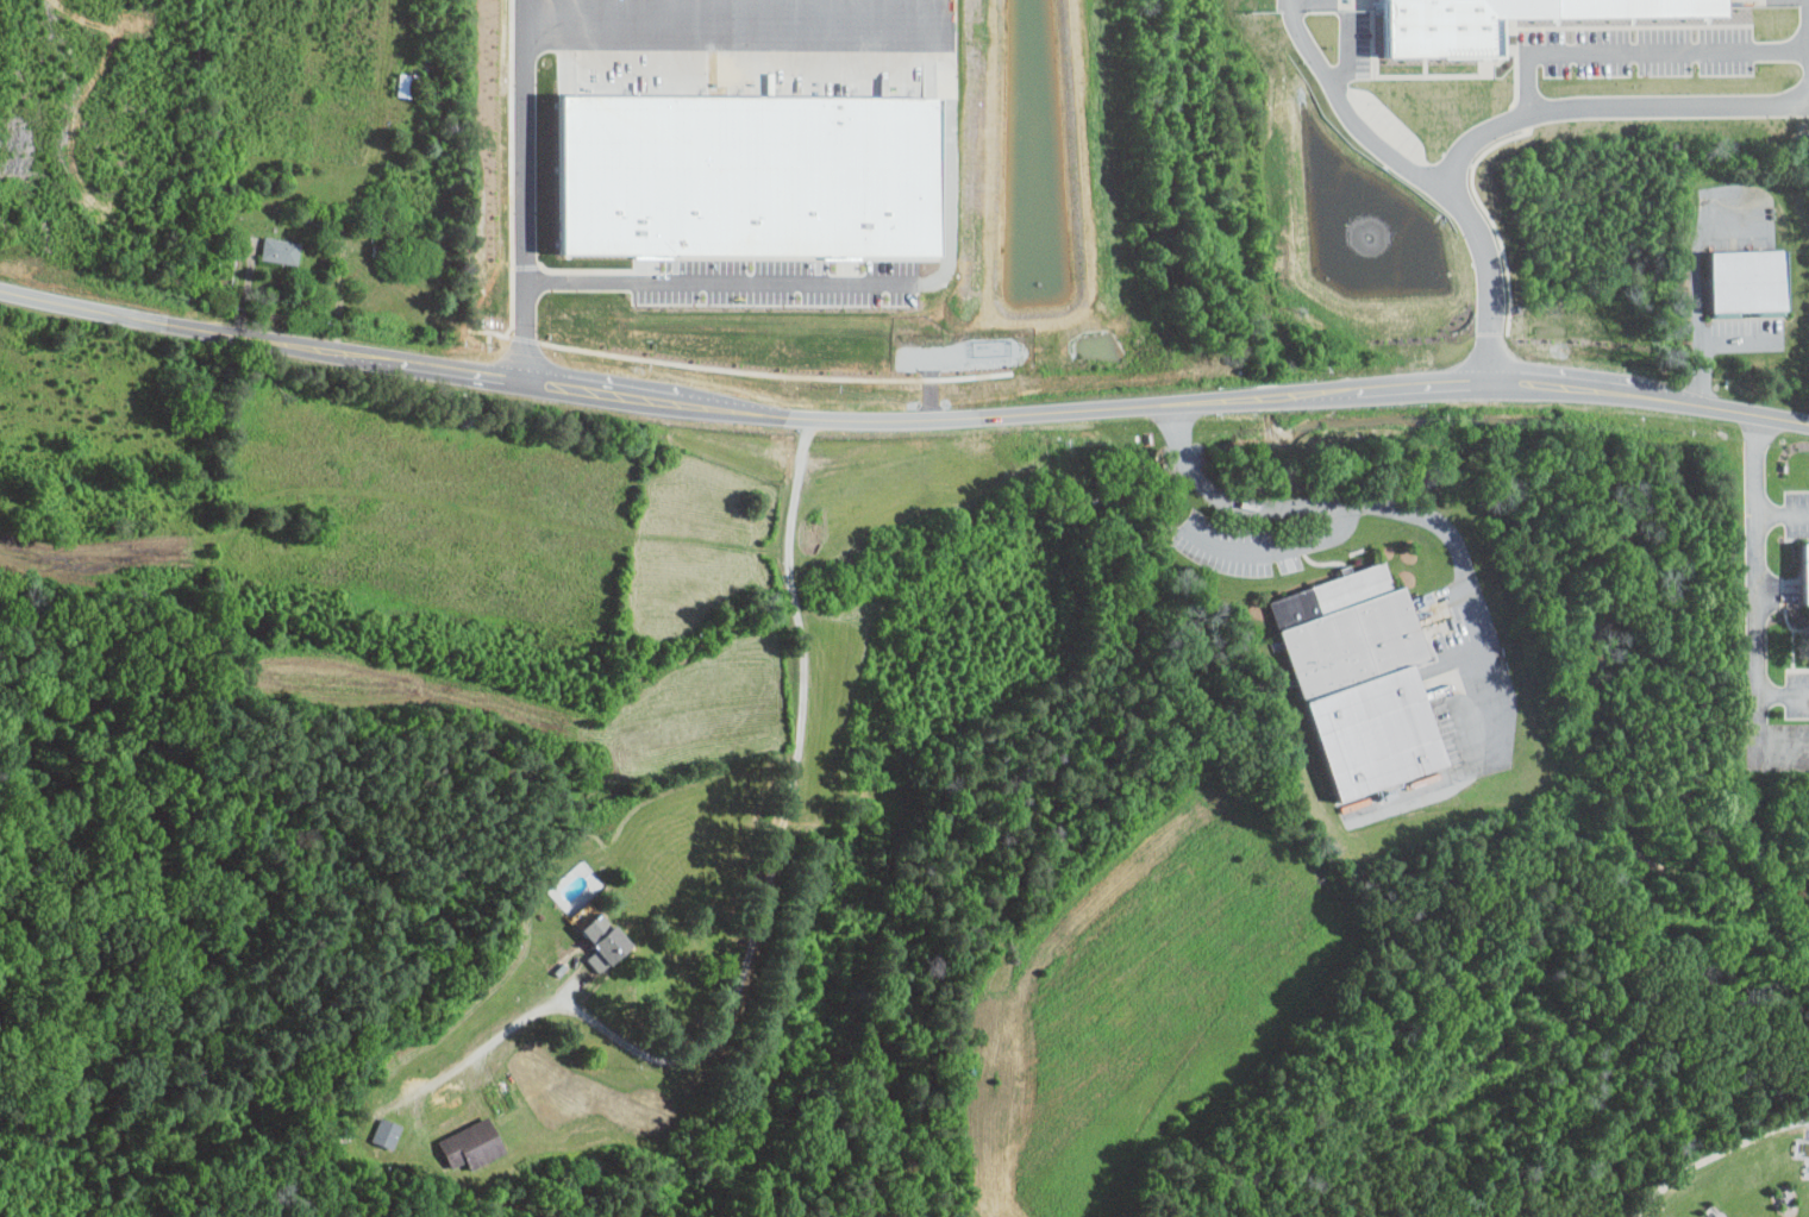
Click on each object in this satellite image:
road: (1289, 11)
road: (736, 17)
building: (1500, 20)
road: (1345, 52)
road: (1638, 52)
road: (1613, 105)
road: (1804, 105)
building: (618, 172)
road: (1435, 181)
road: (524, 189)
building: (862, 197)
building: (269, 244)
building: (1748, 281)
road: (860, 283)
road: (1708, 343)
road: (901, 416)
road: (1758, 487)
road: (1369, 503)
road: (1276, 546)
building: (1805, 572)
building: (1360, 679)
road: (763, 892)
building: (603, 937)
building: (386, 1134)
building: (471, 1144)
road: (1714, 1153)

